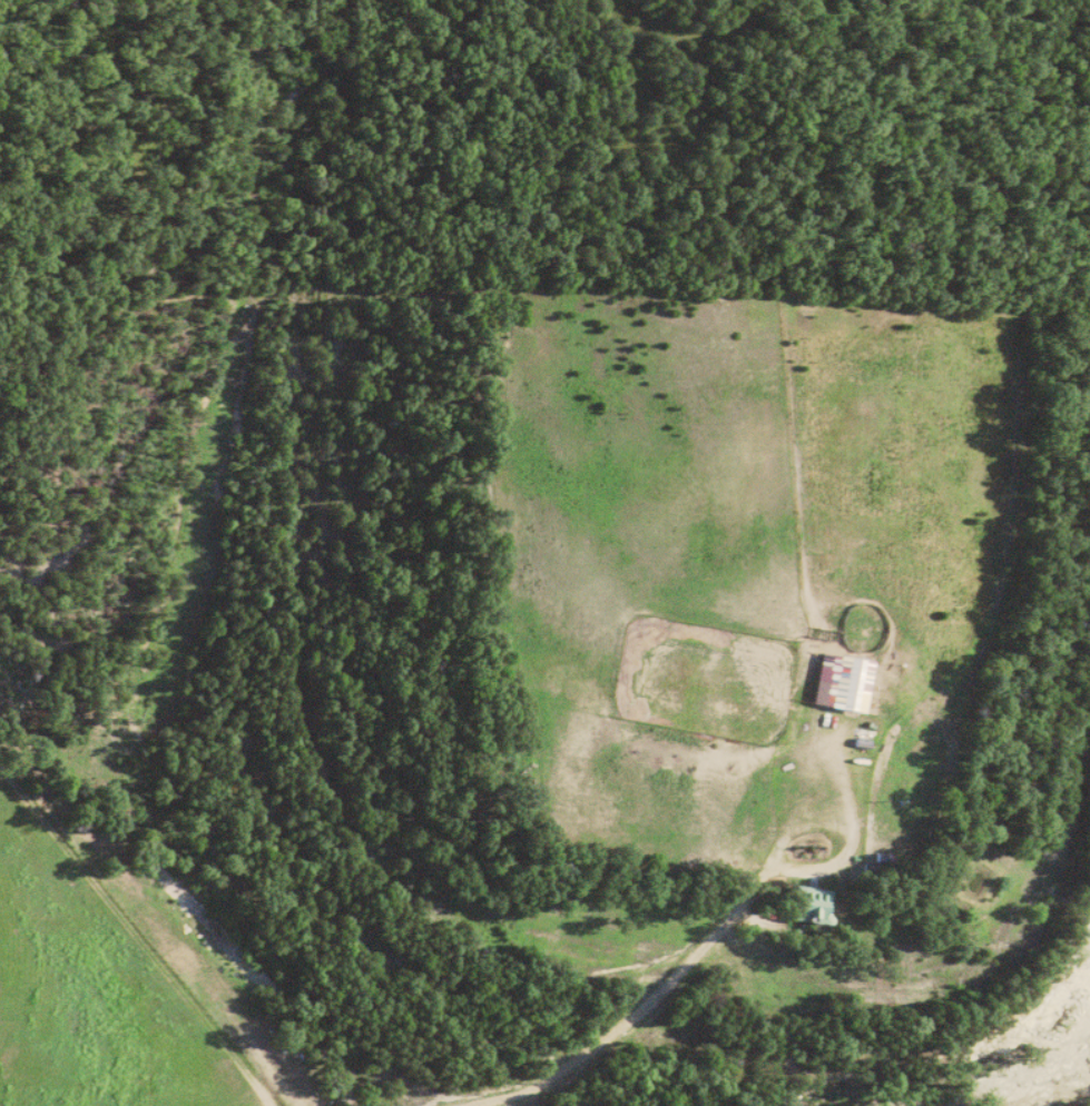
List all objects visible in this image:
building: (843, 682)
building: (812, 905)
road: (655, 998)

